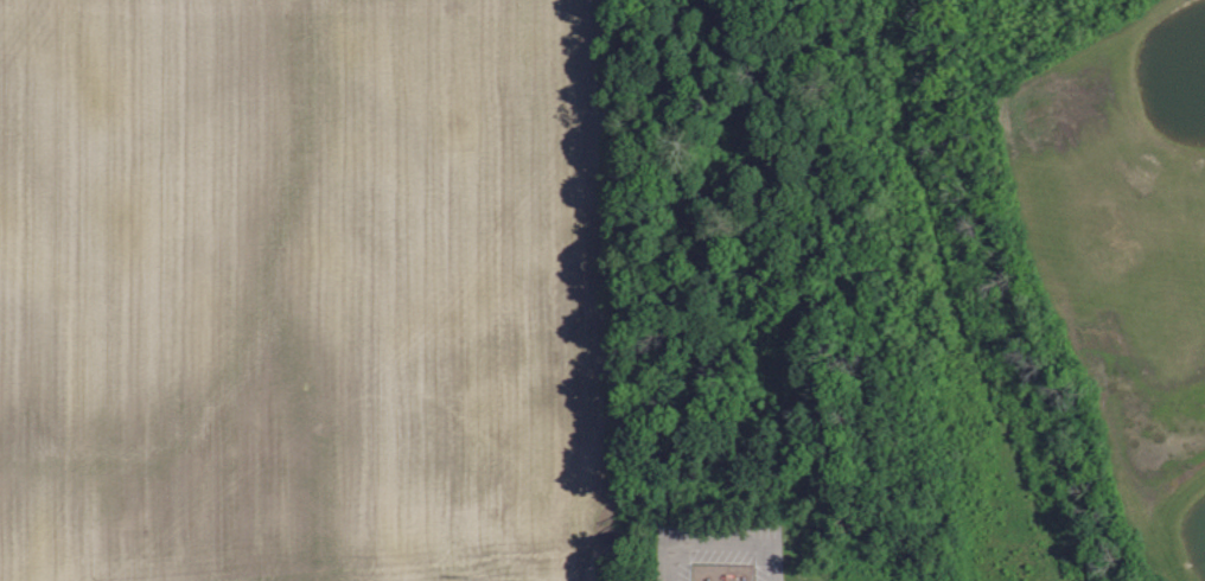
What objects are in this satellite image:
crop: (305, 289)

